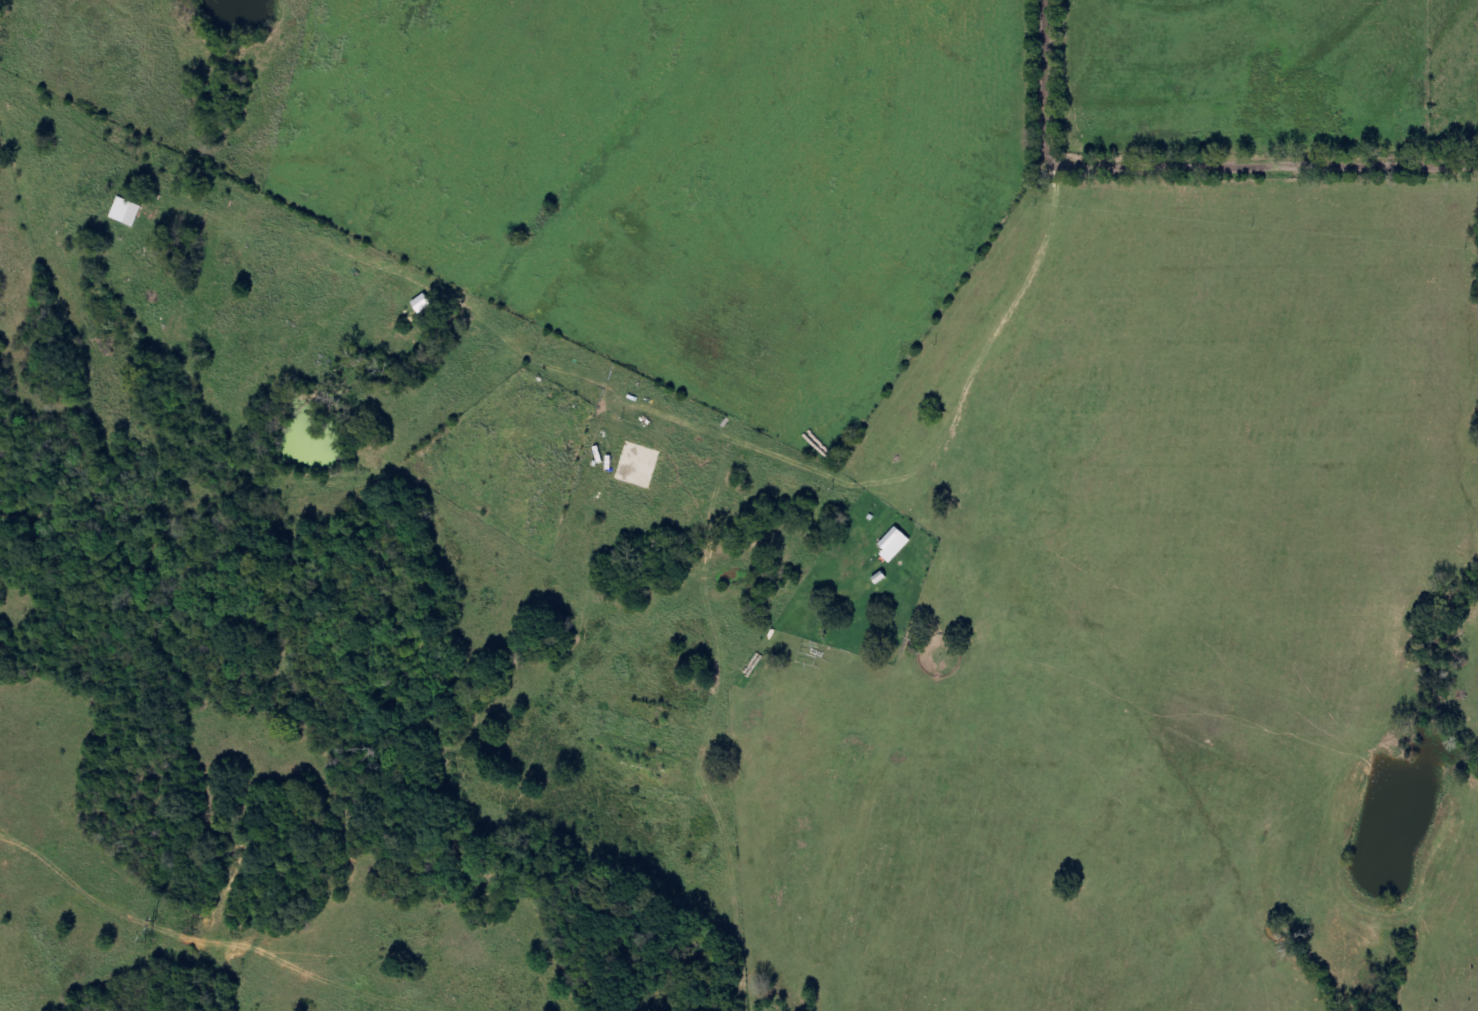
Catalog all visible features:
road: (1192, 158)
building: (130, 212)
road: (1059, 253)
building: (426, 304)
building: (899, 545)
power tower: (153, 930)

